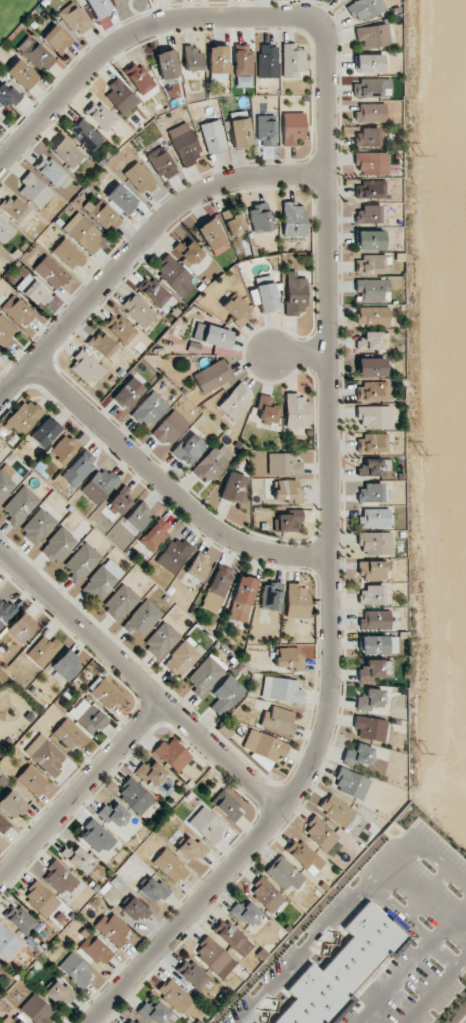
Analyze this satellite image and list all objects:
building: (343, 0)
building: (99, 7)
building: (365, 9)
park: (131, 10)
road: (136, 12)
park: (13, 14)
building: (73, 19)
road: (135, 32)
building: (373, 36)
building: (56, 39)
building: (35, 54)
building: (192, 58)
building: (267, 60)
building: (292, 61)
building: (217, 63)
building: (369, 63)
building: (166, 64)
building: (243, 66)
building: (22, 74)
building: (139, 78)
building: (372, 88)
building: (8, 95)
building: (120, 95)
building: (370, 113)
building: (1, 116)
building: (100, 116)
building: (293, 128)
building: (240, 129)
building: (265, 130)
building: (85, 135)
building: (213, 137)
building: (367, 137)
building: (184, 144)
building: (66, 152)
power tower: (419, 155)
building: (372, 163)
building: (162, 164)
building: (50, 171)
building: (139, 178)
building: (370, 189)
building: (34, 190)
building: (121, 199)
building: (13, 208)
building: (369, 214)
building: (104, 216)
building: (259, 218)
building: (293, 219)
building: (233, 223)
building: (5, 230)
building: (83, 233)
building: (212, 233)
road: (136, 238)
building: (370, 240)
building: (0, 249)
building: (190, 252)
building: (68, 254)
building: (370, 264)
building: (50, 272)
building: (175, 276)
building: (373, 290)
building: (34, 291)
building: (154, 291)
building: (295, 294)
building: (266, 297)
building: (237, 310)
building: (17, 311)
building: (138, 311)
building: (372, 316)
building: (120, 329)
building: (5, 332)
building: (212, 335)
building: (370, 341)
building: (102, 344)
road: (299, 357)
building: (371, 367)
building: (87, 368)
building: (213, 376)
building: (372, 391)
building: (128, 393)
building: (236, 402)
building: (267, 408)
building: (149, 410)
building: (296, 410)
building: (22, 417)
building: (374, 417)
building: (170, 428)
building: (44, 432)
building: (372, 443)
building: (189, 448)
building: (63, 449)
power tower: (422, 453)
building: (213, 463)
building: (284, 464)
building: (371, 467)
building: (78, 470)
building: (5, 481)
building: (99, 485)
building: (233, 487)
building: (288, 490)
building: (370, 493)
road: (161, 496)
building: (120, 501)
building: (20, 505)
building: (138, 516)
building: (374, 518)
building: (289, 520)
building: (38, 526)
building: (154, 534)
building: (375, 543)
building: (58, 544)
building: (173, 555)
building: (82, 562)
road: (330, 562)
building: (198, 566)
building: (373, 570)
building: (102, 580)
building: (216, 588)
building: (371, 595)
building: (270, 596)
building: (242, 598)
building: (297, 601)
building: (120, 602)
building: (6, 611)
building: (142, 618)
building: (375, 620)
building: (22, 629)
building: (161, 640)
building: (379, 645)
building: (43, 651)
building: (183, 657)
building: (288, 658)
building: (66, 666)
building: (370, 670)
building: (206, 674)
road: (138, 683)
building: (281, 689)
building: (104, 693)
building: (226, 695)
building: (370, 700)
building: (87, 716)
building: (277, 720)
building: (370, 728)
building: (69, 735)
building: (264, 745)
power tower: (427, 751)
building: (172, 754)
building: (359, 754)
building: (45, 755)
building: (152, 774)
building: (32, 780)
building: (351, 783)
road: (79, 790)
building: (135, 796)
building: (12, 804)
building: (227, 806)
building: (336, 810)
building: (114, 814)
building: (3, 825)
building: (207, 825)
building: (320, 834)
building: (96, 837)
building: (191, 848)
building: (304, 856)
building: (75, 857)
road: (439, 861)
building: (170, 866)
building: (283, 874)
building: (59, 878)
building: (154, 890)
building: (266, 894)
road: (425, 894)
building: (40, 899)
building: (135, 909)
building: (246, 914)
building: (21, 919)
road: (410, 927)
building: (113, 928)
road: (325, 930)
building: (233, 937)
building: (8, 943)
building: (95, 951)
building: (214, 957)
road: (411, 963)
building: (0, 966)
building: (76, 970)
building: (342, 970)
building: (192, 974)
road: (435, 989)
building: (60, 994)
building: (177, 998)
building: (37, 1010)
building: (154, 1012)
building: (10, 1019)
building: (133, 1021)

